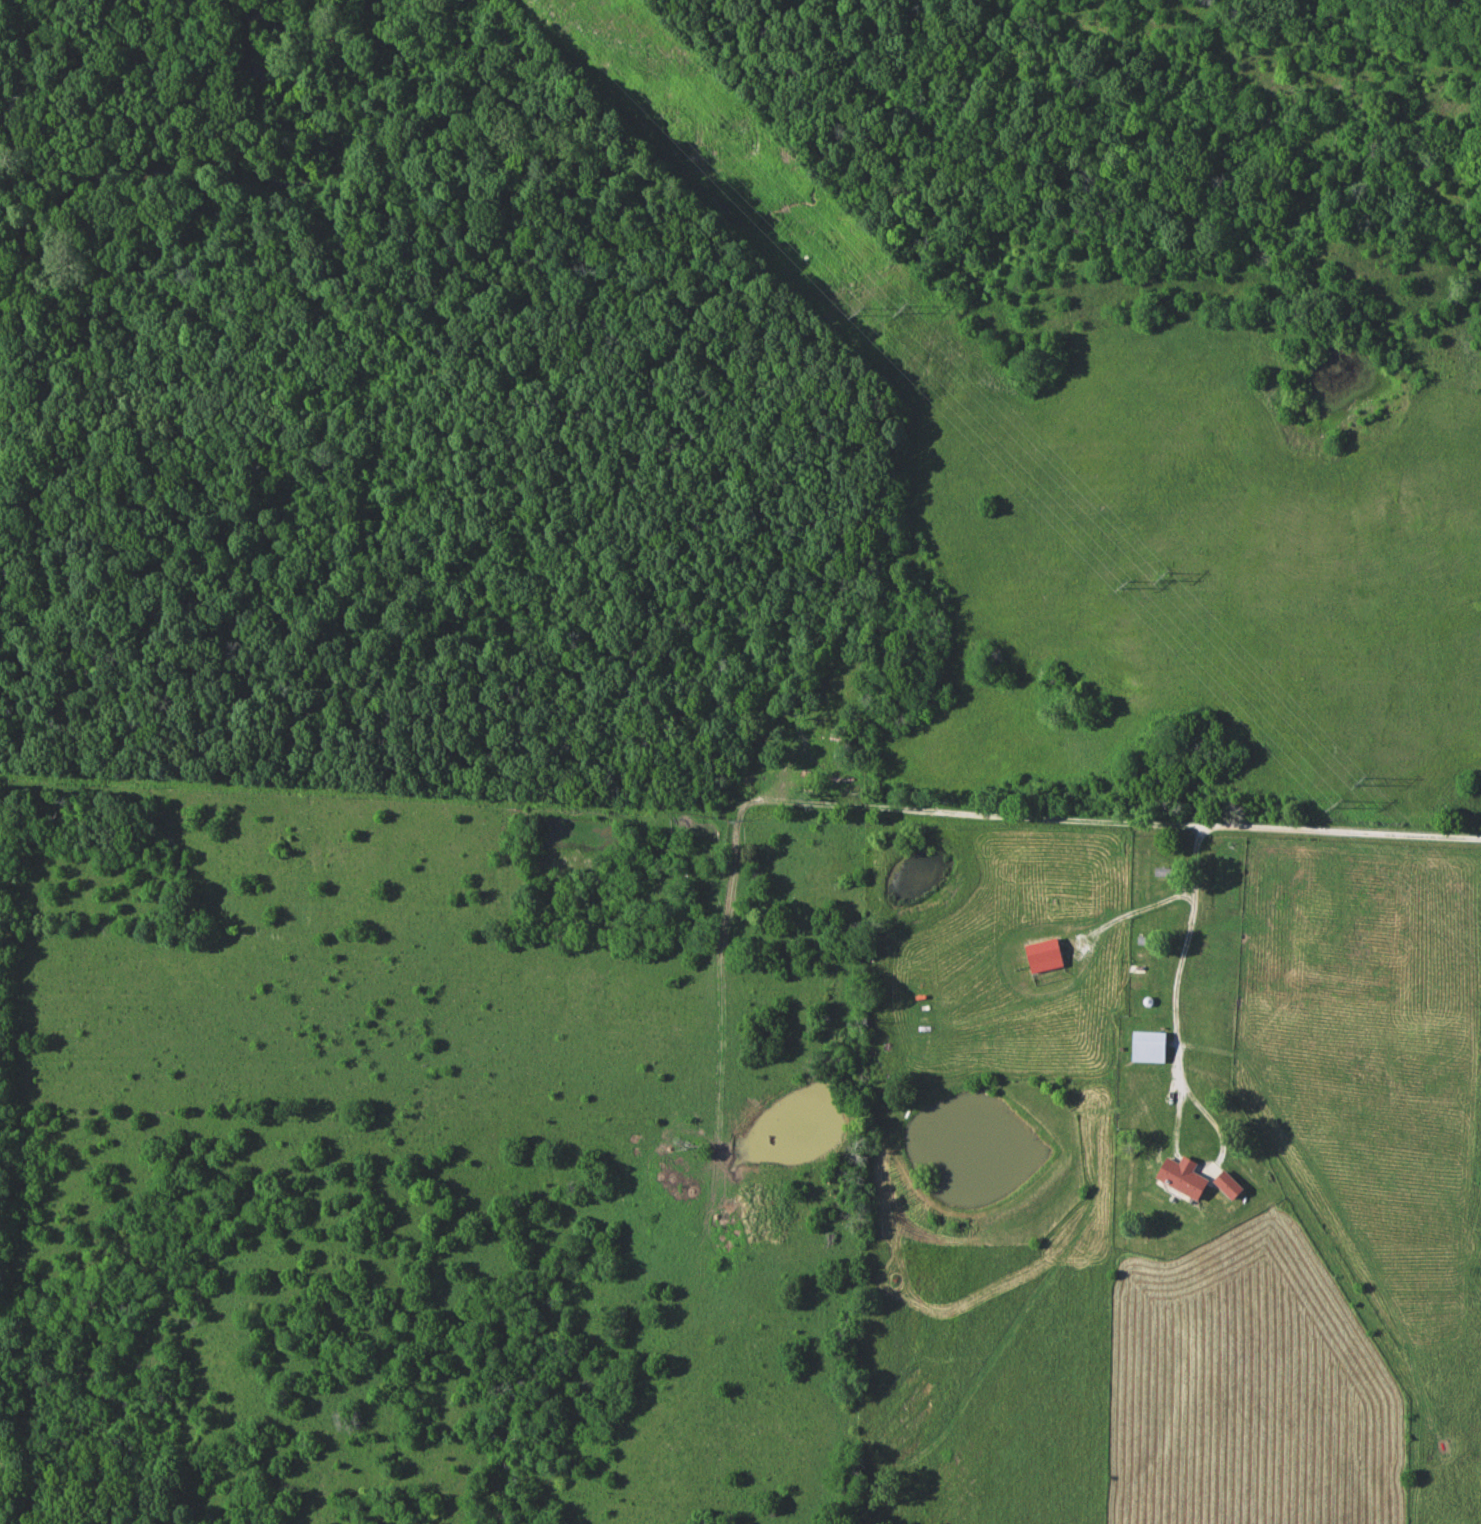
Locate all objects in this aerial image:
power tower: (903, 311)
power tower: (858, 313)
power tower: (1164, 577)
power tower: (1126, 585)
power tower: (1360, 782)
power tower: (1337, 805)
road: (1109, 823)
building: (1224, 935)
building: (1137, 974)
road: (1178, 985)
building: (1150, 1047)
building: (1185, 1177)
building: (1230, 1185)

